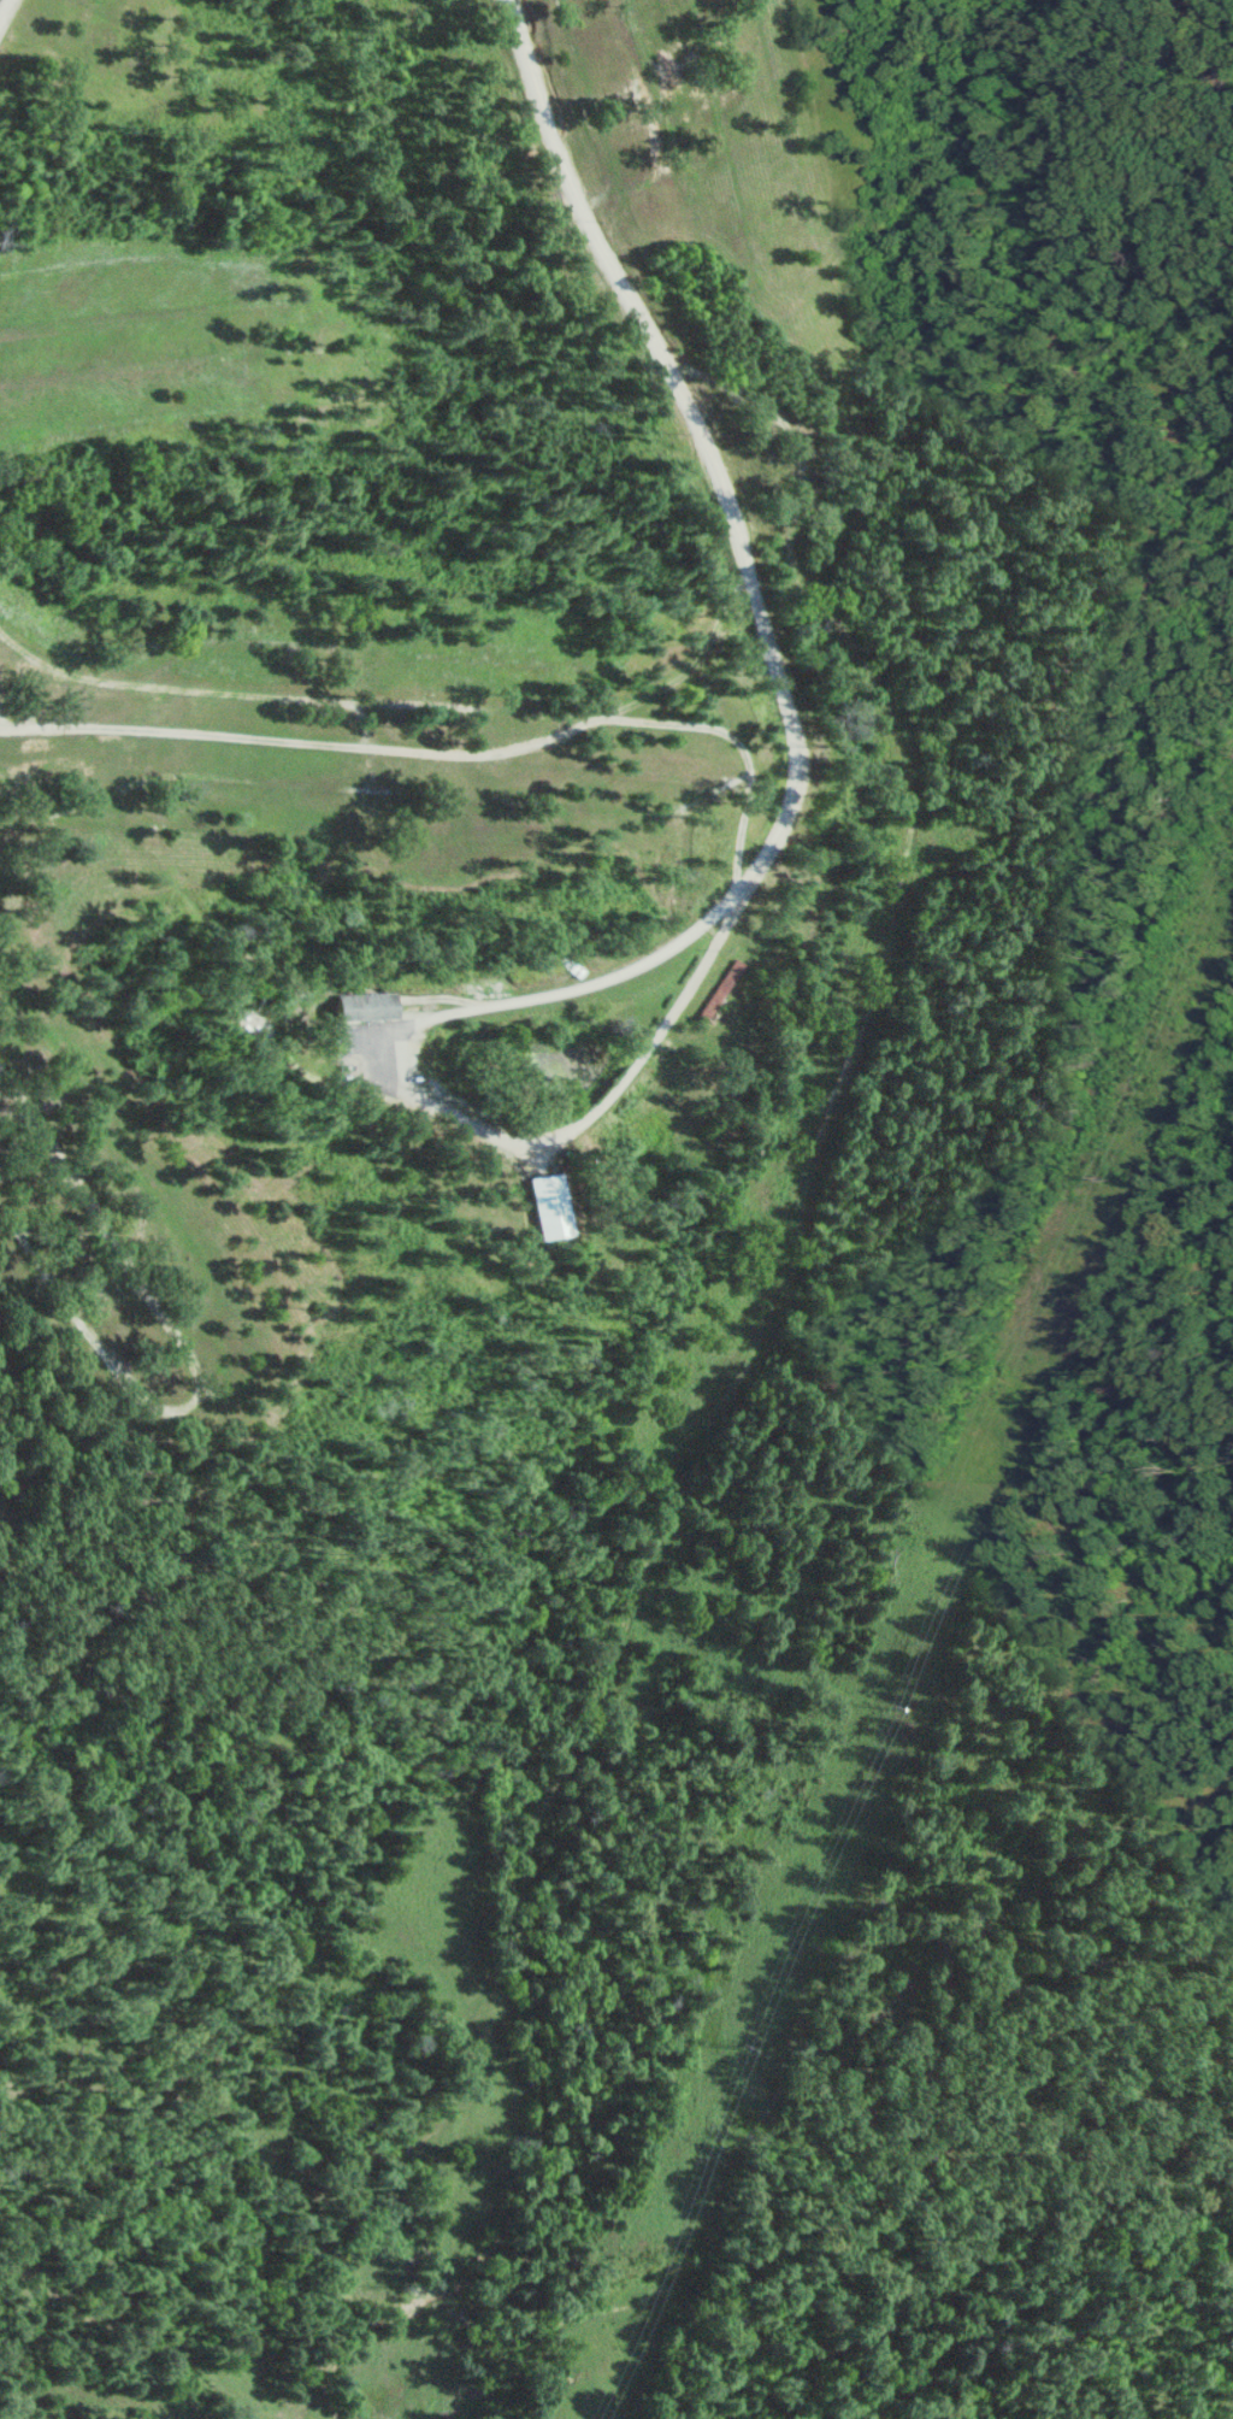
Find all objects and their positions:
road: (4, 6)
road: (113, 319)
road: (114, 367)
road: (706, 442)
road: (246, 693)
road: (378, 705)
road: (367, 711)
road: (684, 724)
road: (184, 731)
road: (431, 748)
road: (167, 771)
road: (547, 818)
road: (566, 834)
building: (571, 965)
building: (718, 988)
road: (448, 995)
building: (367, 1006)
parking lot: (383, 1058)
road: (415, 1097)
building: (548, 1203)
road: (196, 1355)

